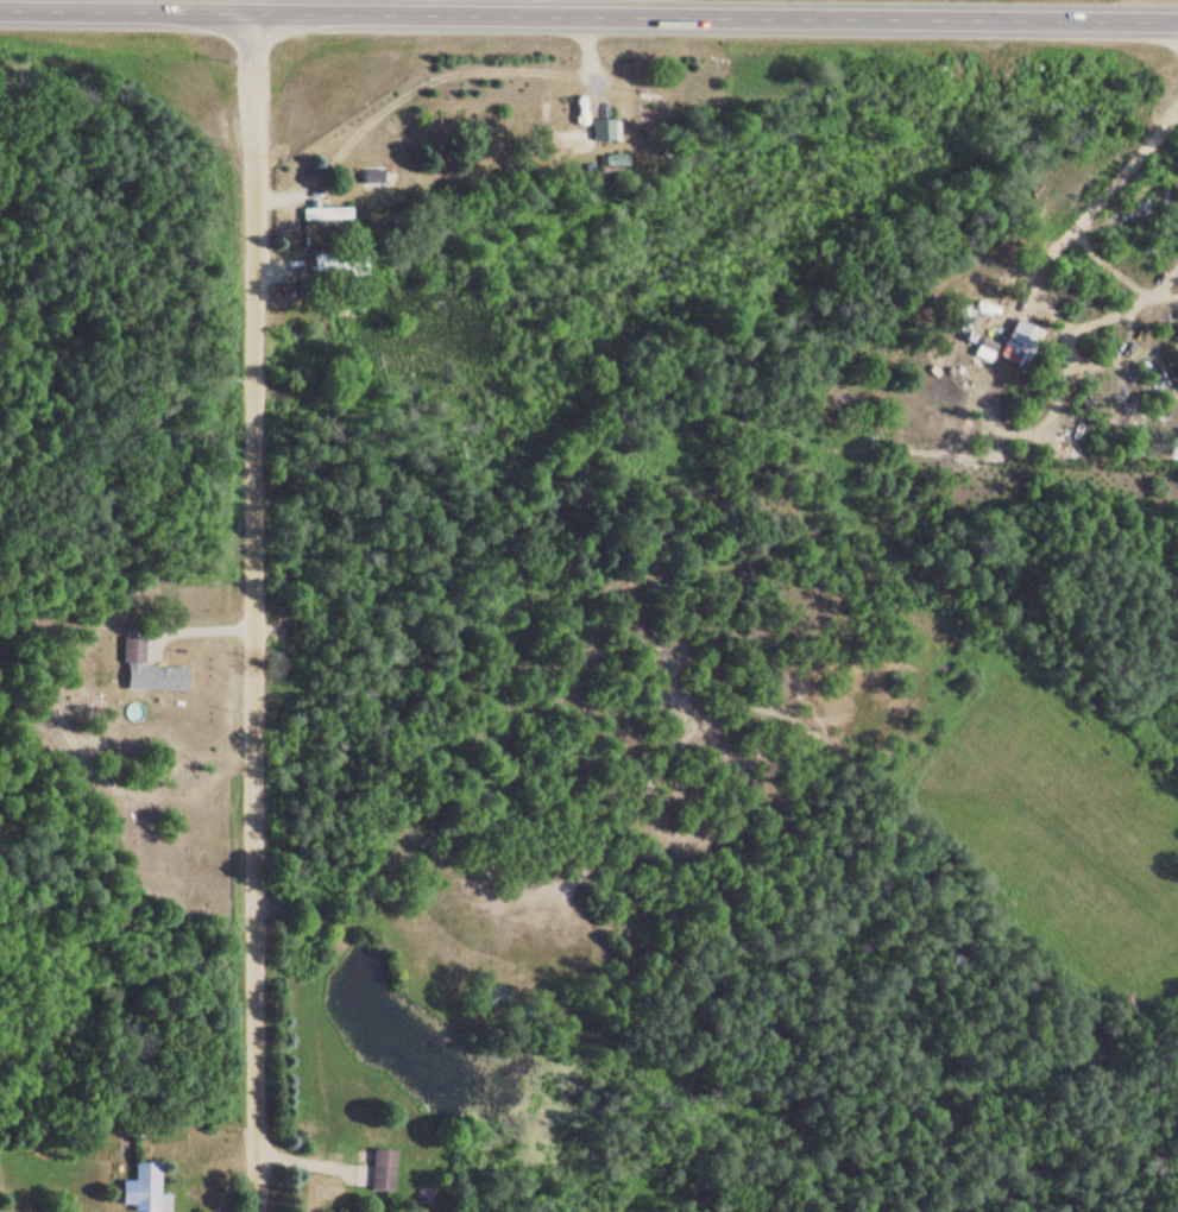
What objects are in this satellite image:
road: (588, 15)
building: (588, 135)
building: (616, 160)
building: (325, 213)
building: (327, 264)
building: (1021, 336)
road: (253, 605)
building: (134, 650)
building: (382, 1170)
building: (144, 1188)

